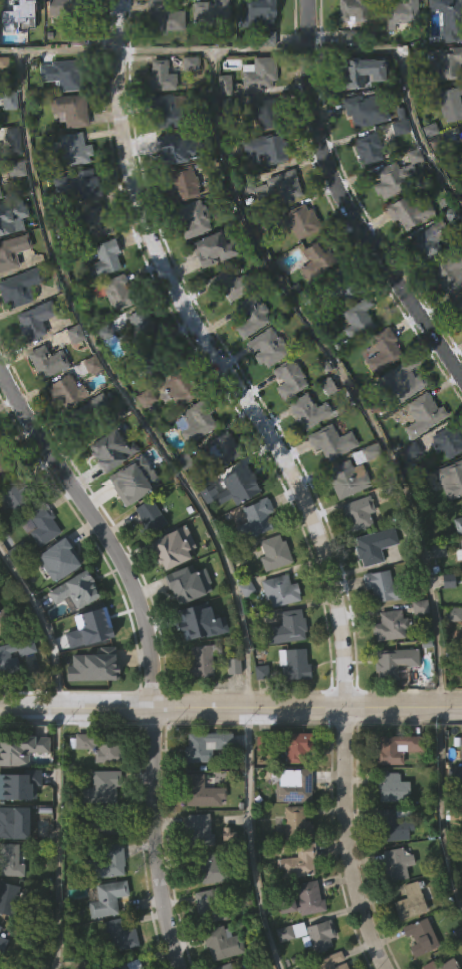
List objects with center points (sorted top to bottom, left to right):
building: (68, 9)
building: (355, 11)
building: (212, 14)
building: (258, 14)
building: (403, 14)
building: (21, 15)
building: (165, 18)
building: (449, 20)
building: (347, 39)
road: (215, 48)
road: (60, 51)
building: (192, 65)
building: (448, 65)
building: (360, 71)
building: (260, 75)
building: (65, 76)
building: (161, 77)
building: (1, 84)
road: (406, 90)
building: (10, 103)
building: (451, 104)
building: (71, 111)
building: (367, 111)
building: (167, 112)
building: (267, 113)
building: (461, 134)
building: (13, 140)
building: (267, 149)
building: (369, 149)
building: (75, 150)
building: (171, 151)
building: (0, 162)
building: (18, 171)
building: (390, 181)
building: (79, 185)
building: (183, 185)
building: (276, 188)
building: (0, 198)
road: (345, 203)
building: (410, 212)
building: (195, 220)
building: (302, 222)
building: (98, 223)
building: (9, 225)
building: (431, 242)
building: (220, 251)
building: (12, 252)
building: (318, 258)
building: (102, 264)
building: (449, 273)
building: (230, 285)
building: (20, 288)
building: (344, 288)
building: (116, 293)
building: (459, 308)
building: (252, 317)
building: (35, 322)
building: (358, 322)
building: (141, 329)
building: (270, 348)
building: (384, 352)
building: (47, 363)
building: (154, 363)
road: (339, 370)
building: (290, 380)
building: (403, 382)
road: (121, 386)
building: (178, 392)
building: (67, 393)
building: (309, 412)
building: (424, 415)
building: (196, 422)
building: (332, 443)
building: (447, 443)
building: (222, 451)
building: (115, 453)
building: (368, 455)
building: (5, 461)
road: (288, 471)
building: (346, 480)
building: (451, 480)
building: (129, 485)
building: (239, 486)
building: (14, 495)
building: (358, 512)
building: (149, 518)
building: (254, 519)
building: (458, 524)
building: (42, 525)
building: (171, 545)
building: (374, 545)
building: (461, 545)
building: (274, 552)
building: (63, 558)
building: (383, 585)
building: (181, 589)
building: (77, 590)
building: (279, 590)
building: (6, 618)
building: (198, 620)
road: (46, 622)
building: (445, 623)
building: (92, 626)
building: (390, 626)
building: (285, 628)
building: (72, 632)
building: (417, 649)
road: (152, 651)
building: (14, 654)
building: (450, 656)
building: (201, 659)
building: (96, 663)
building: (394, 663)
building: (293, 664)
building: (198, 702)
building: (6, 705)
building: (392, 705)
building: (291, 706)
building: (89, 707)
road: (231, 707)
building: (231, 708)
building: (258, 713)
building: (458, 743)
building: (98, 745)
building: (205, 745)
building: (297, 746)
building: (396, 748)
building: (11, 753)
building: (11, 785)
building: (293, 785)
building: (459, 785)
building: (391, 786)
building: (102, 787)
building: (201, 791)
road: (442, 803)
building: (456, 812)
building: (13, 823)
building: (296, 823)
building: (99, 825)
building: (391, 826)
building: (196, 831)
road: (55, 838)
road: (251, 840)
building: (461, 854)
building: (296, 859)
building: (9, 861)
building: (106, 862)
building: (396, 864)
building: (209, 867)
building: (8, 898)
building: (106, 898)
building: (302, 900)
building: (410, 901)
building: (393, 905)
building: (207, 906)
building: (290, 932)
building: (318, 935)
building: (117, 936)
building: (420, 937)
building: (221, 942)
building: (2, 943)
building: (407, 943)
building: (206, 947)
building: (330, 962)
building: (109, 965)
building: (128, 965)
building: (416, 965)
building: (441, 965)
building: (222, 966)
building: (253, 967)
building: (294, 967)

